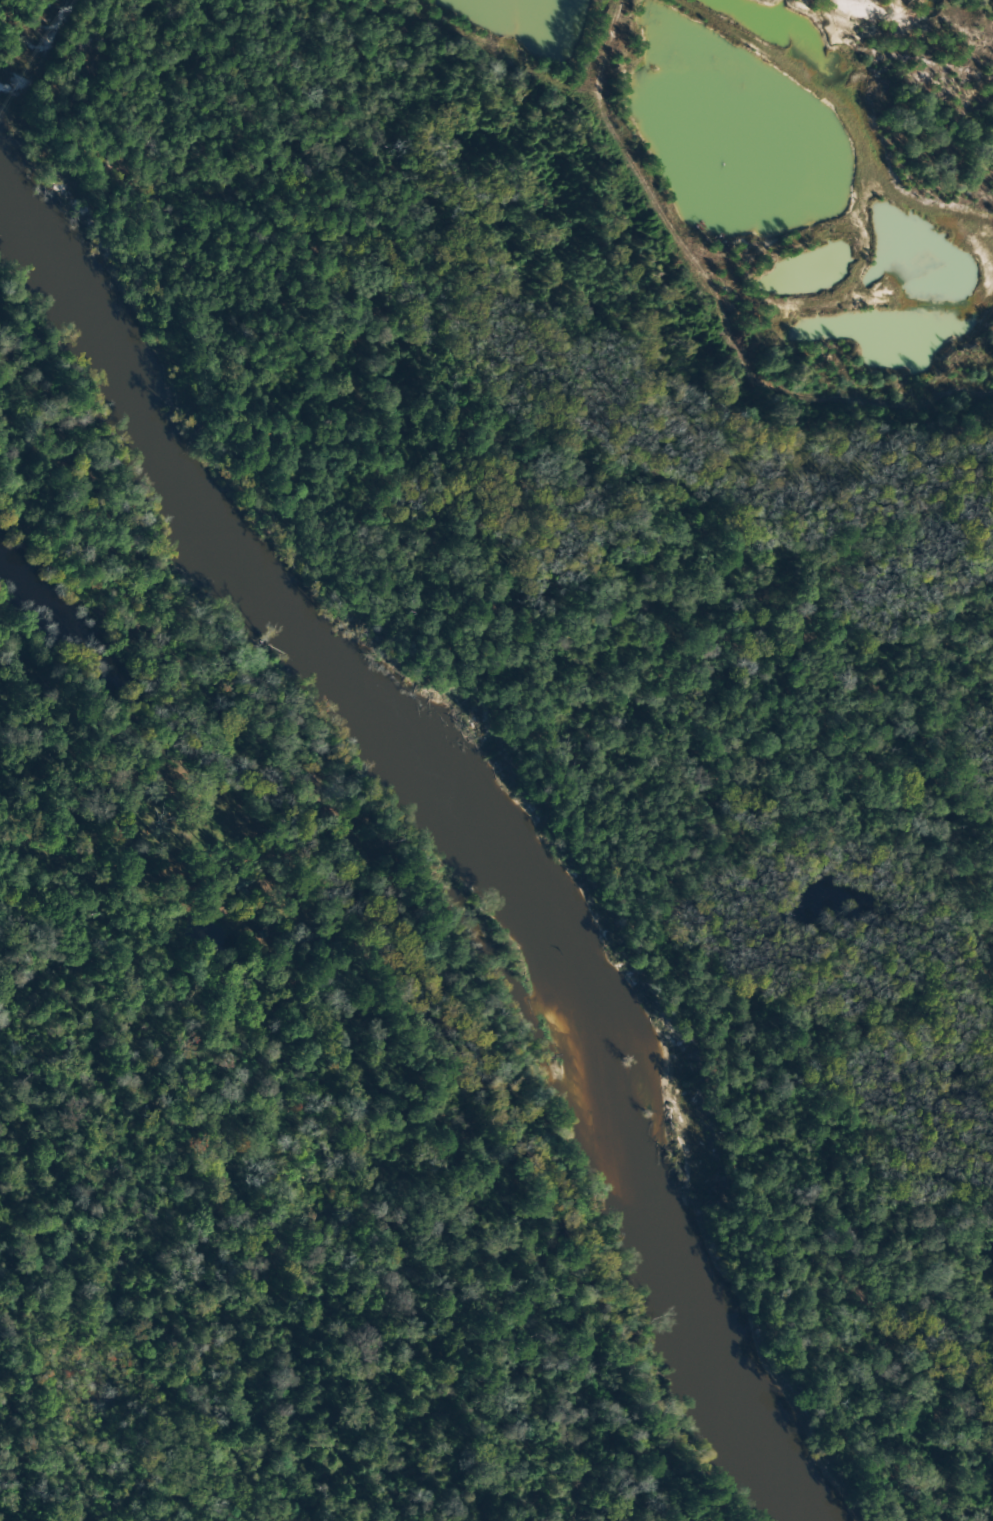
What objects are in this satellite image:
road: (385, 10)
road: (34, 806)

